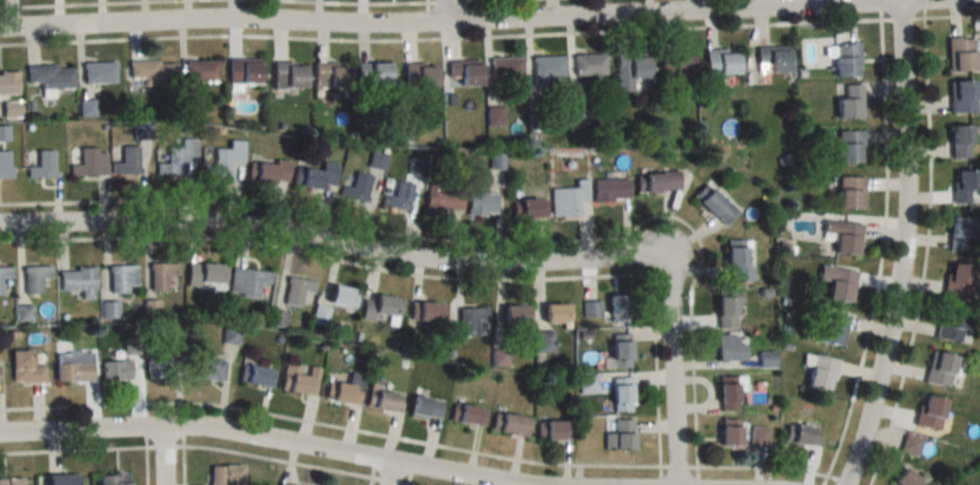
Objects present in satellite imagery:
road: (472, 0)
road: (443, 1)
road: (362, 2)
road: (91, 3)
road: (441, 12)
road: (952, 15)
road: (903, 17)
road: (490, 22)
road: (440, 37)
building: (958, 53)
building: (844, 58)
building: (770, 59)
building: (719, 62)
building: (587, 64)
building: (673, 64)
building: (547, 66)
building: (505, 67)
building: (627, 69)
building: (200, 70)
building: (153, 71)
building: (242, 71)
building: (373, 72)
building: (99, 73)
building: (462, 73)
building: (287, 74)
building: (330, 75)
building: (419, 75)
building: (50, 76)
building: (8, 82)
building: (960, 95)
building: (847, 100)
building: (11, 108)
building: (577, 115)
building: (4, 133)
building: (958, 140)
building: (848, 146)
building: (178, 157)
building: (225, 157)
building: (127, 161)
building: (90, 162)
building: (42, 164)
building: (416, 166)
building: (268, 171)
building: (5, 172)
building: (316, 176)
building: (656, 181)
building: (963, 185)
building: (355, 188)
building: (609, 189)
building: (848, 192)
building: (399, 196)
building: (441, 197)
building: (567, 198)
building: (481, 203)
building: (713, 204)
building: (529, 207)
building: (958, 233)
building: (842, 236)
road: (901, 248)
road: (881, 250)
road: (926, 254)
road: (439, 261)
building: (735, 262)
building: (4, 274)
building: (206, 274)
building: (164, 276)
building: (35, 278)
building: (122, 278)
building: (957, 280)
building: (78, 281)
building: (247, 282)
building: (836, 282)
building: (297, 291)
building: (334, 304)
building: (726, 306)
building: (379, 307)
building: (591, 308)
building: (617, 308)
building: (110, 309)
building: (423, 311)
building: (25, 313)
building: (556, 313)
building: (515, 316)
building: (277, 317)
building: (468, 320)
building: (951, 324)
building: (830, 327)
building: (544, 341)
building: (729, 348)
building: (619, 351)
building: (765, 358)
building: (73, 366)
building: (163, 367)
building: (24, 368)
building: (938, 368)
building: (208, 369)
building: (116, 370)
building: (256, 375)
building: (299, 379)
building: (587, 383)
building: (345, 389)
building: (619, 392)
building: (726, 392)
building: (383, 399)
building: (424, 406)
building: (928, 411)
building: (467, 415)
road: (331, 424)
building: (509, 425)
building: (552, 430)
building: (617, 434)
building: (727, 434)
building: (802, 435)
road: (268, 440)
building: (910, 444)
road: (166, 445)
road: (74, 449)
road: (163, 457)
road: (280, 459)
road: (185, 465)
road: (680, 465)
road: (764, 466)
road: (389, 474)
building: (225, 475)
building: (59, 479)
building: (112, 479)
building: (904, 479)
building: (10, 481)
road: (374, 481)
road: (394, 481)
road: (838, 481)
building: (286, 484)

